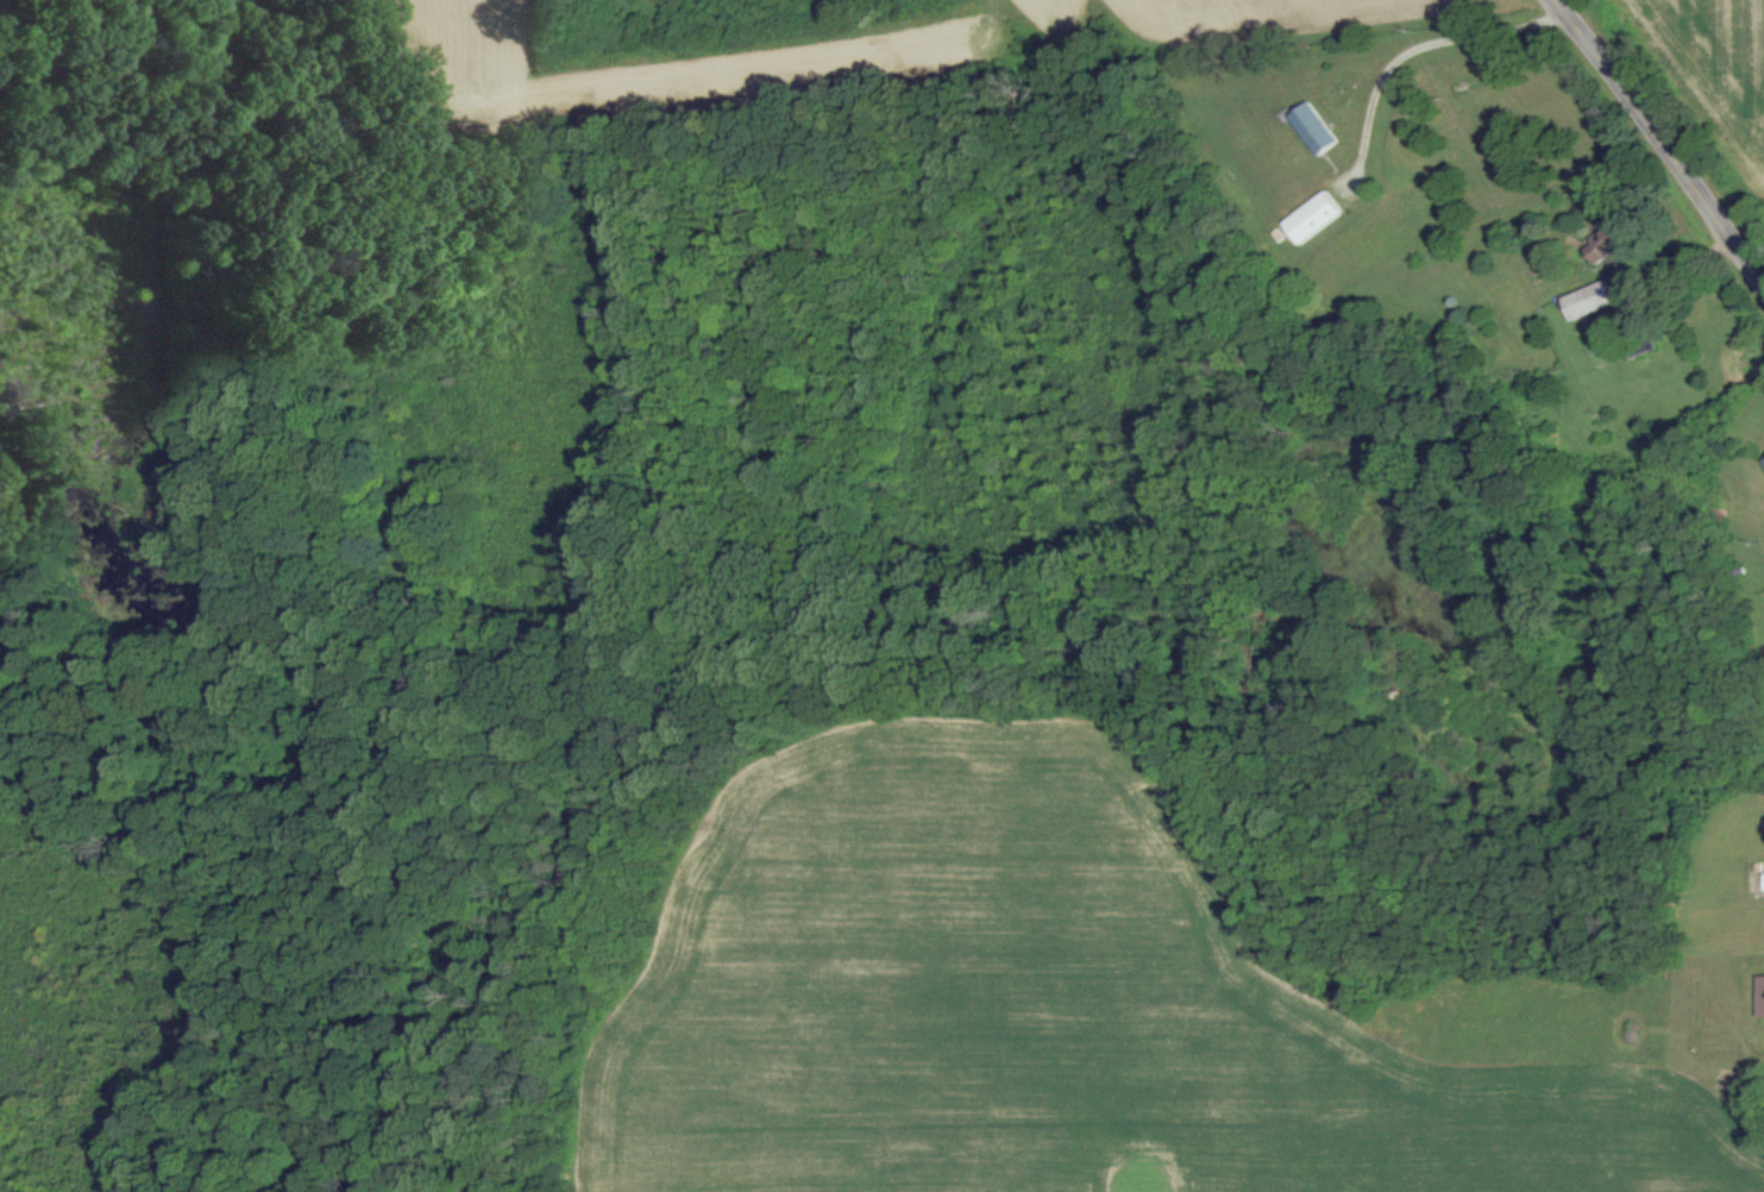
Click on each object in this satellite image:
road: (1425, 44)
building: (1318, 126)
road: (1662, 133)
building: (1320, 215)
building: (1614, 239)
road: (1682, 265)
building: (1594, 299)

